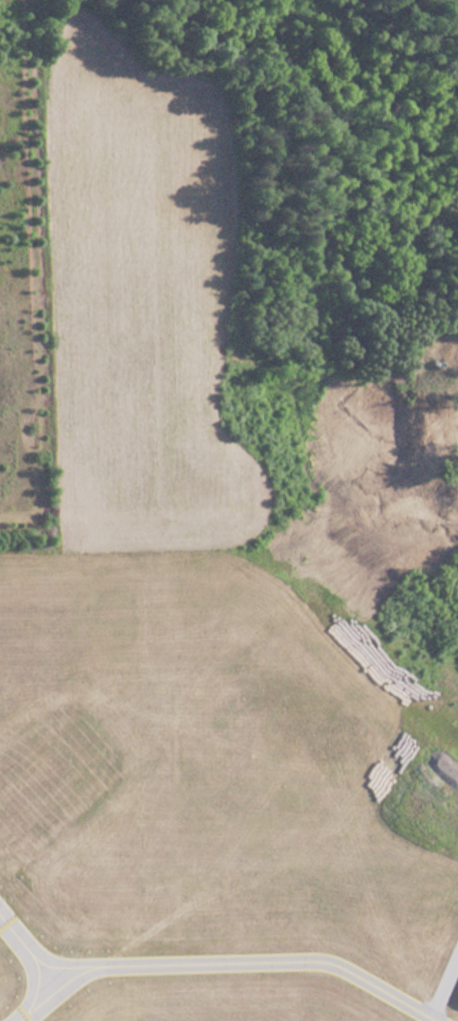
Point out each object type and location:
airport taxiway: (28, 953)
airport taxiway: (224, 962)
building: (457, 1002)

